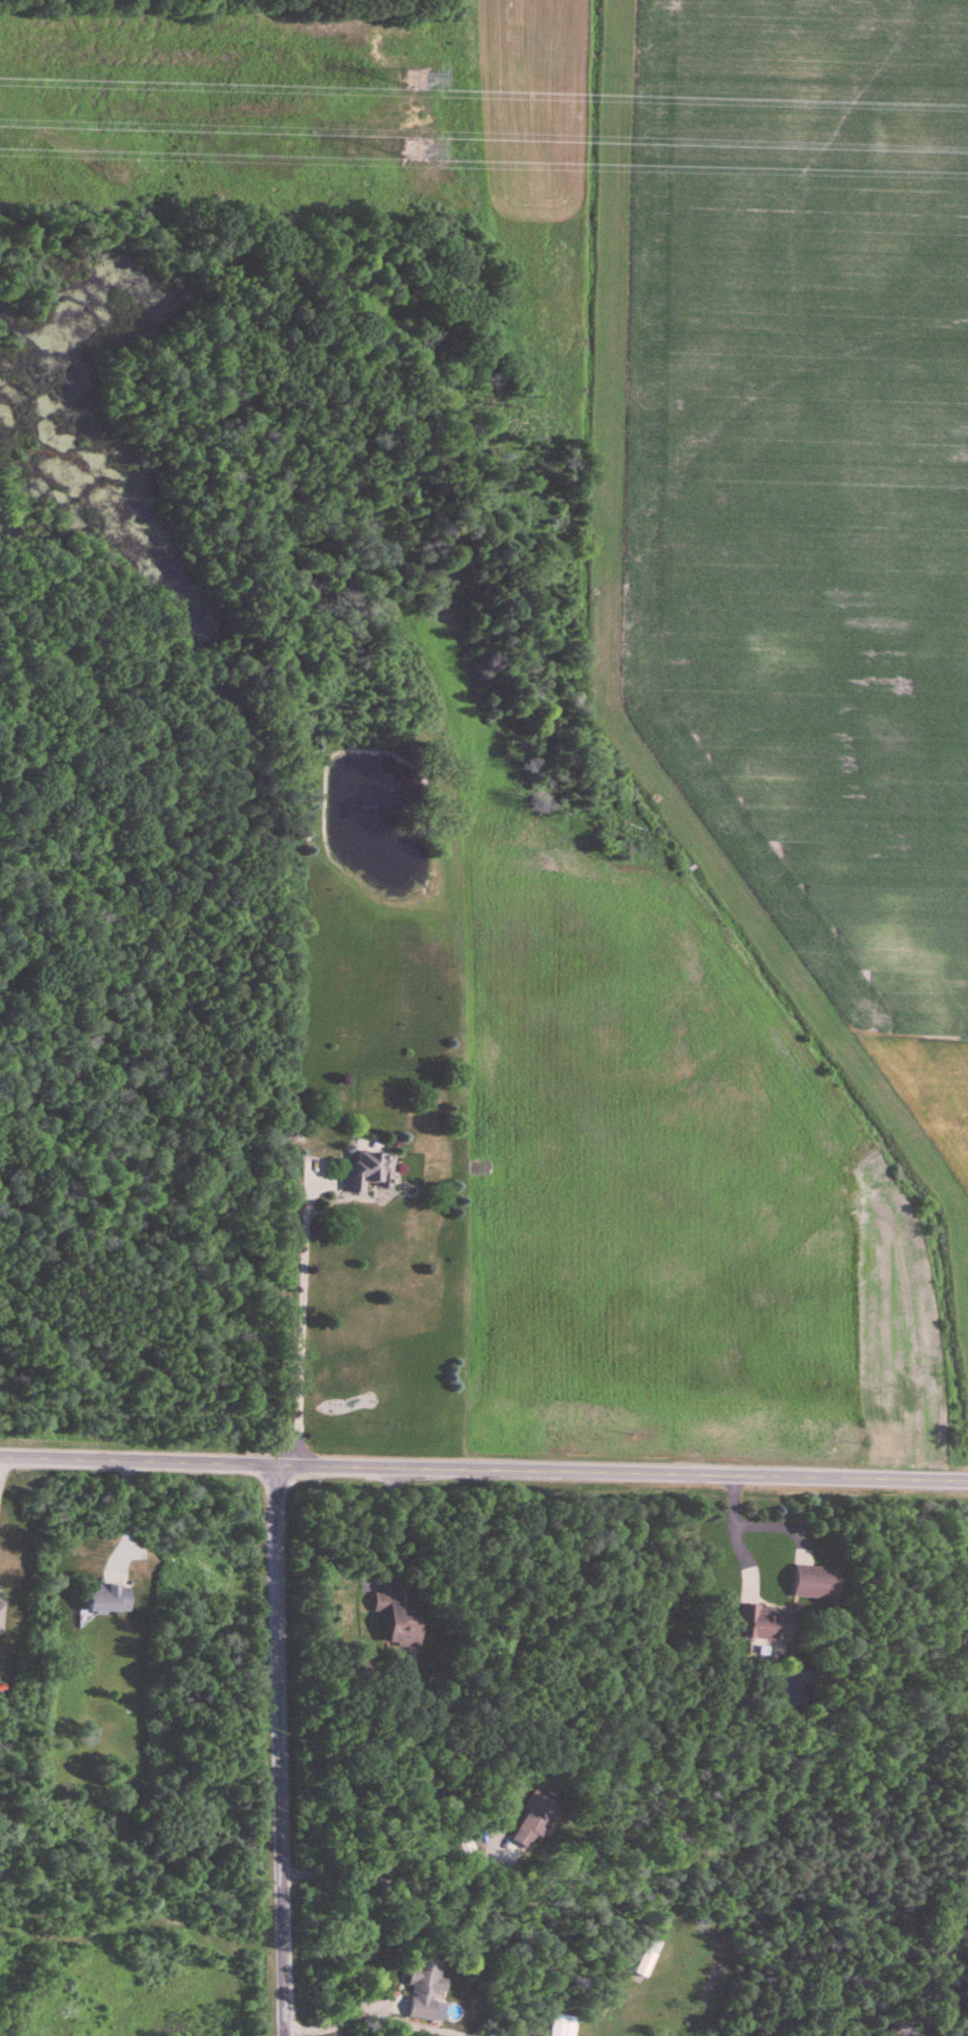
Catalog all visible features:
power tower: (419, 80)
power tower: (418, 152)
crop: (801, 506)
crop: (659, 1169)
building: (373, 1170)
road: (483, 1470)
road: (123, 1514)
road: (394, 1520)
road: (737, 1534)
building: (817, 1584)
building: (108, 1599)
building: (2, 1617)
building: (398, 1619)
building: (766, 1624)
road: (279, 1750)
building: (540, 1819)
road: (397, 1877)
crop: (130, 1978)
building: (425, 1989)
road: (341, 2018)
building: (564, 2026)

